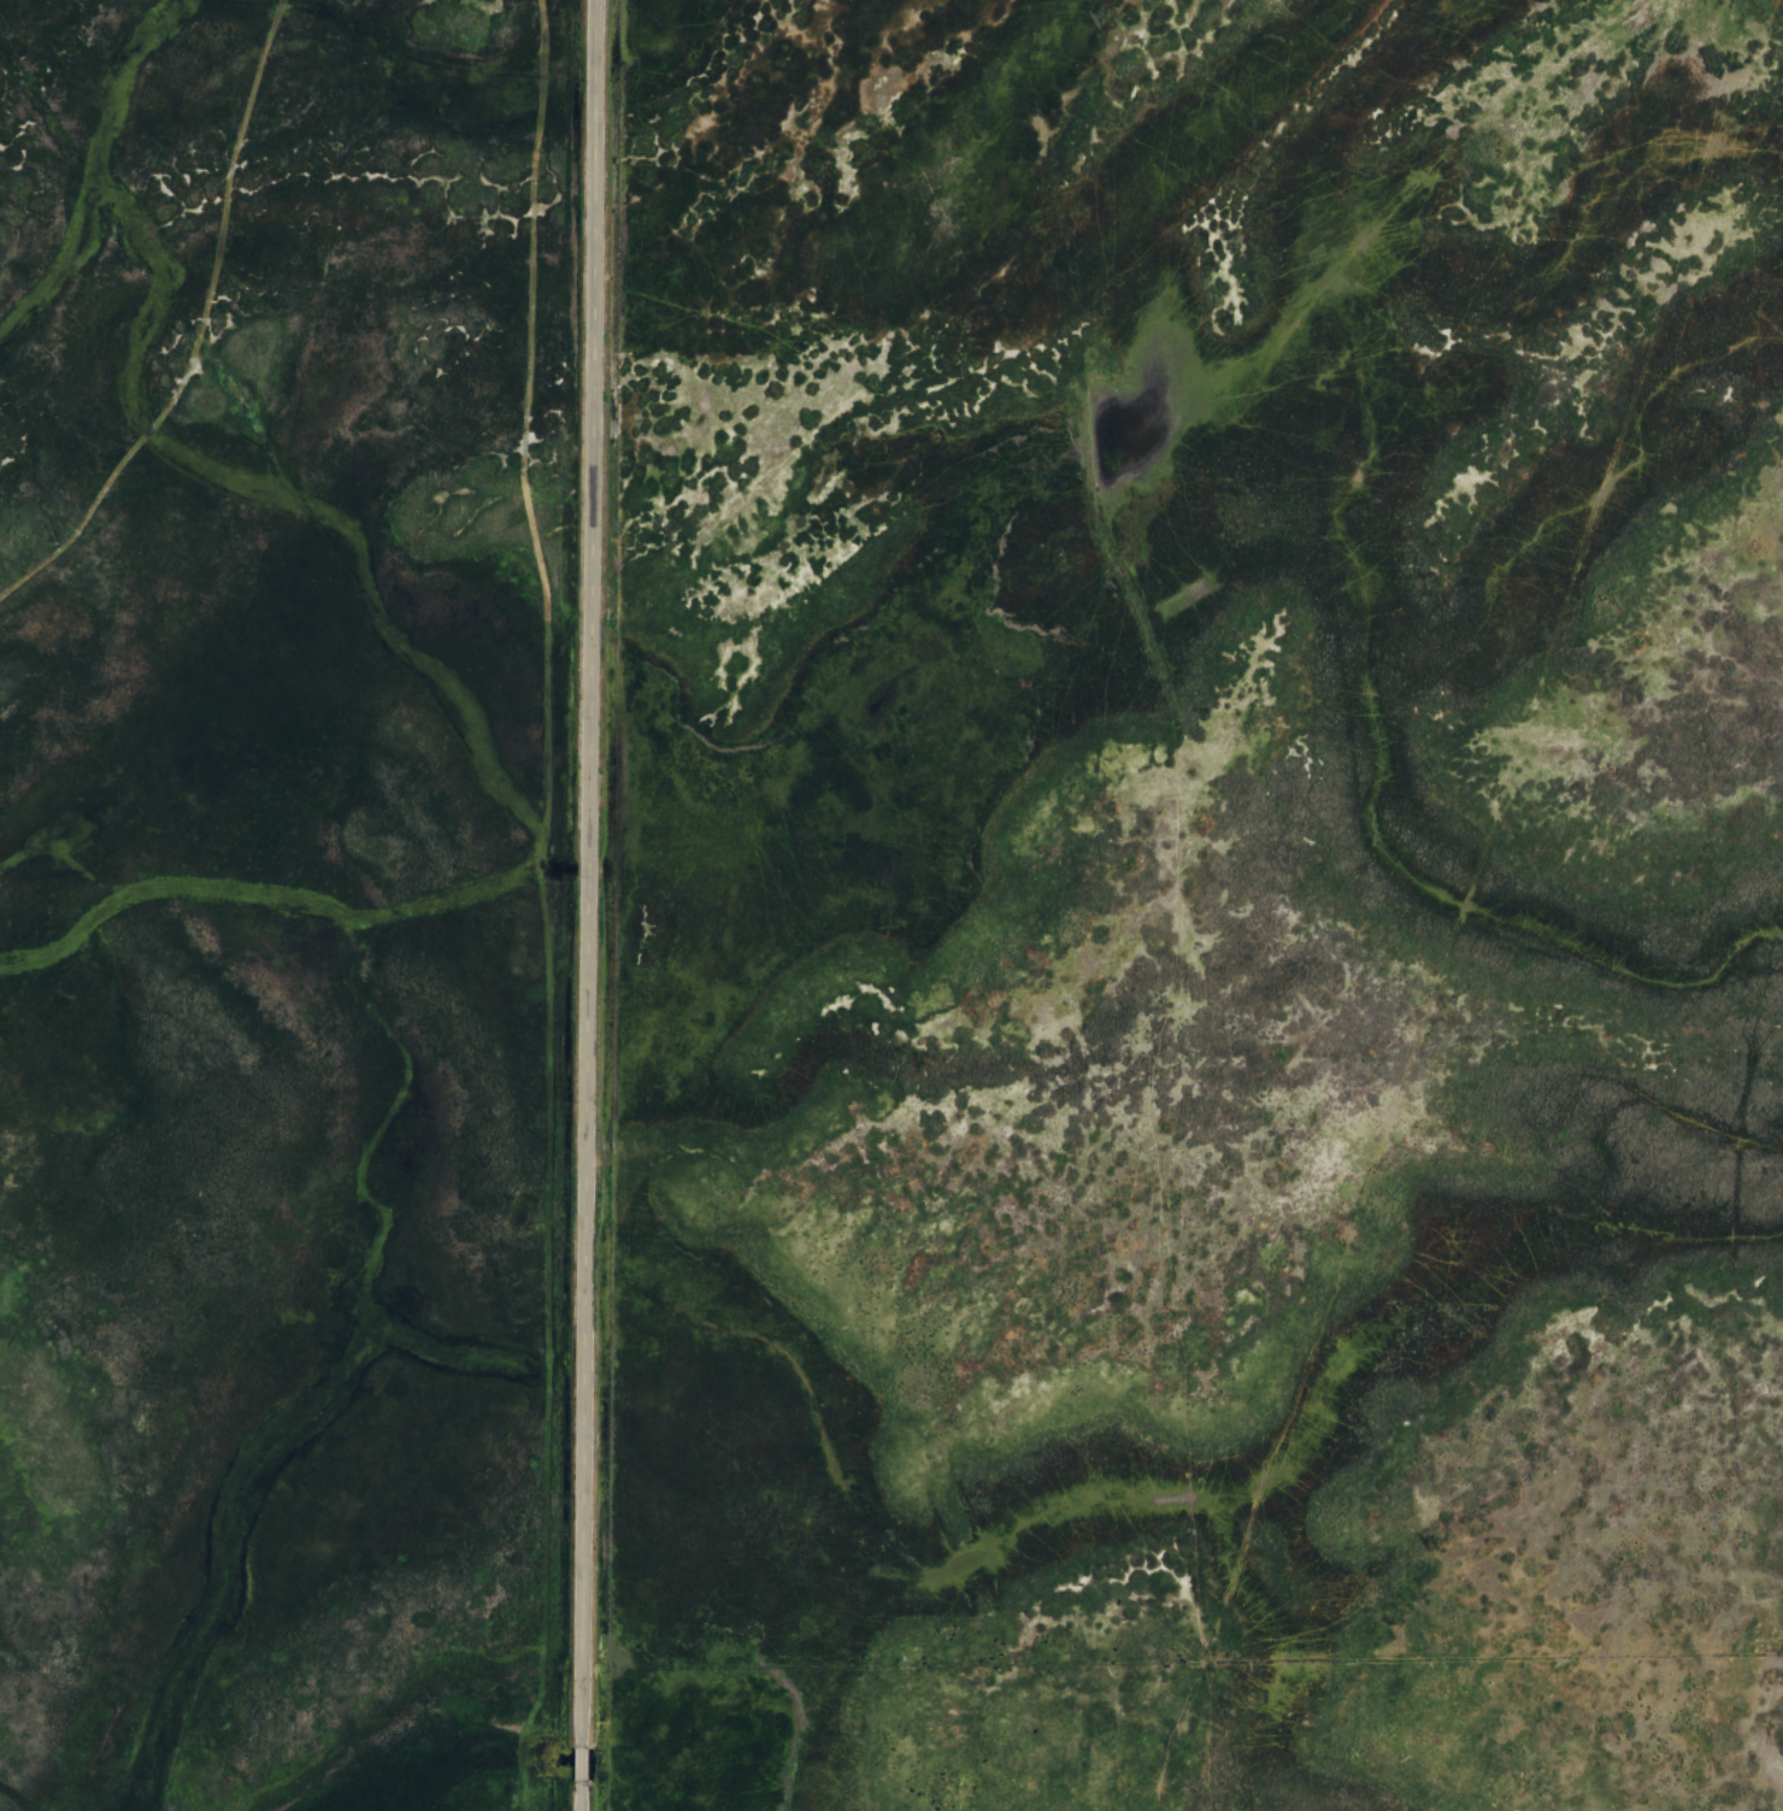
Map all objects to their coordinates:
road: (583, 905)
crop: (891, 905)

